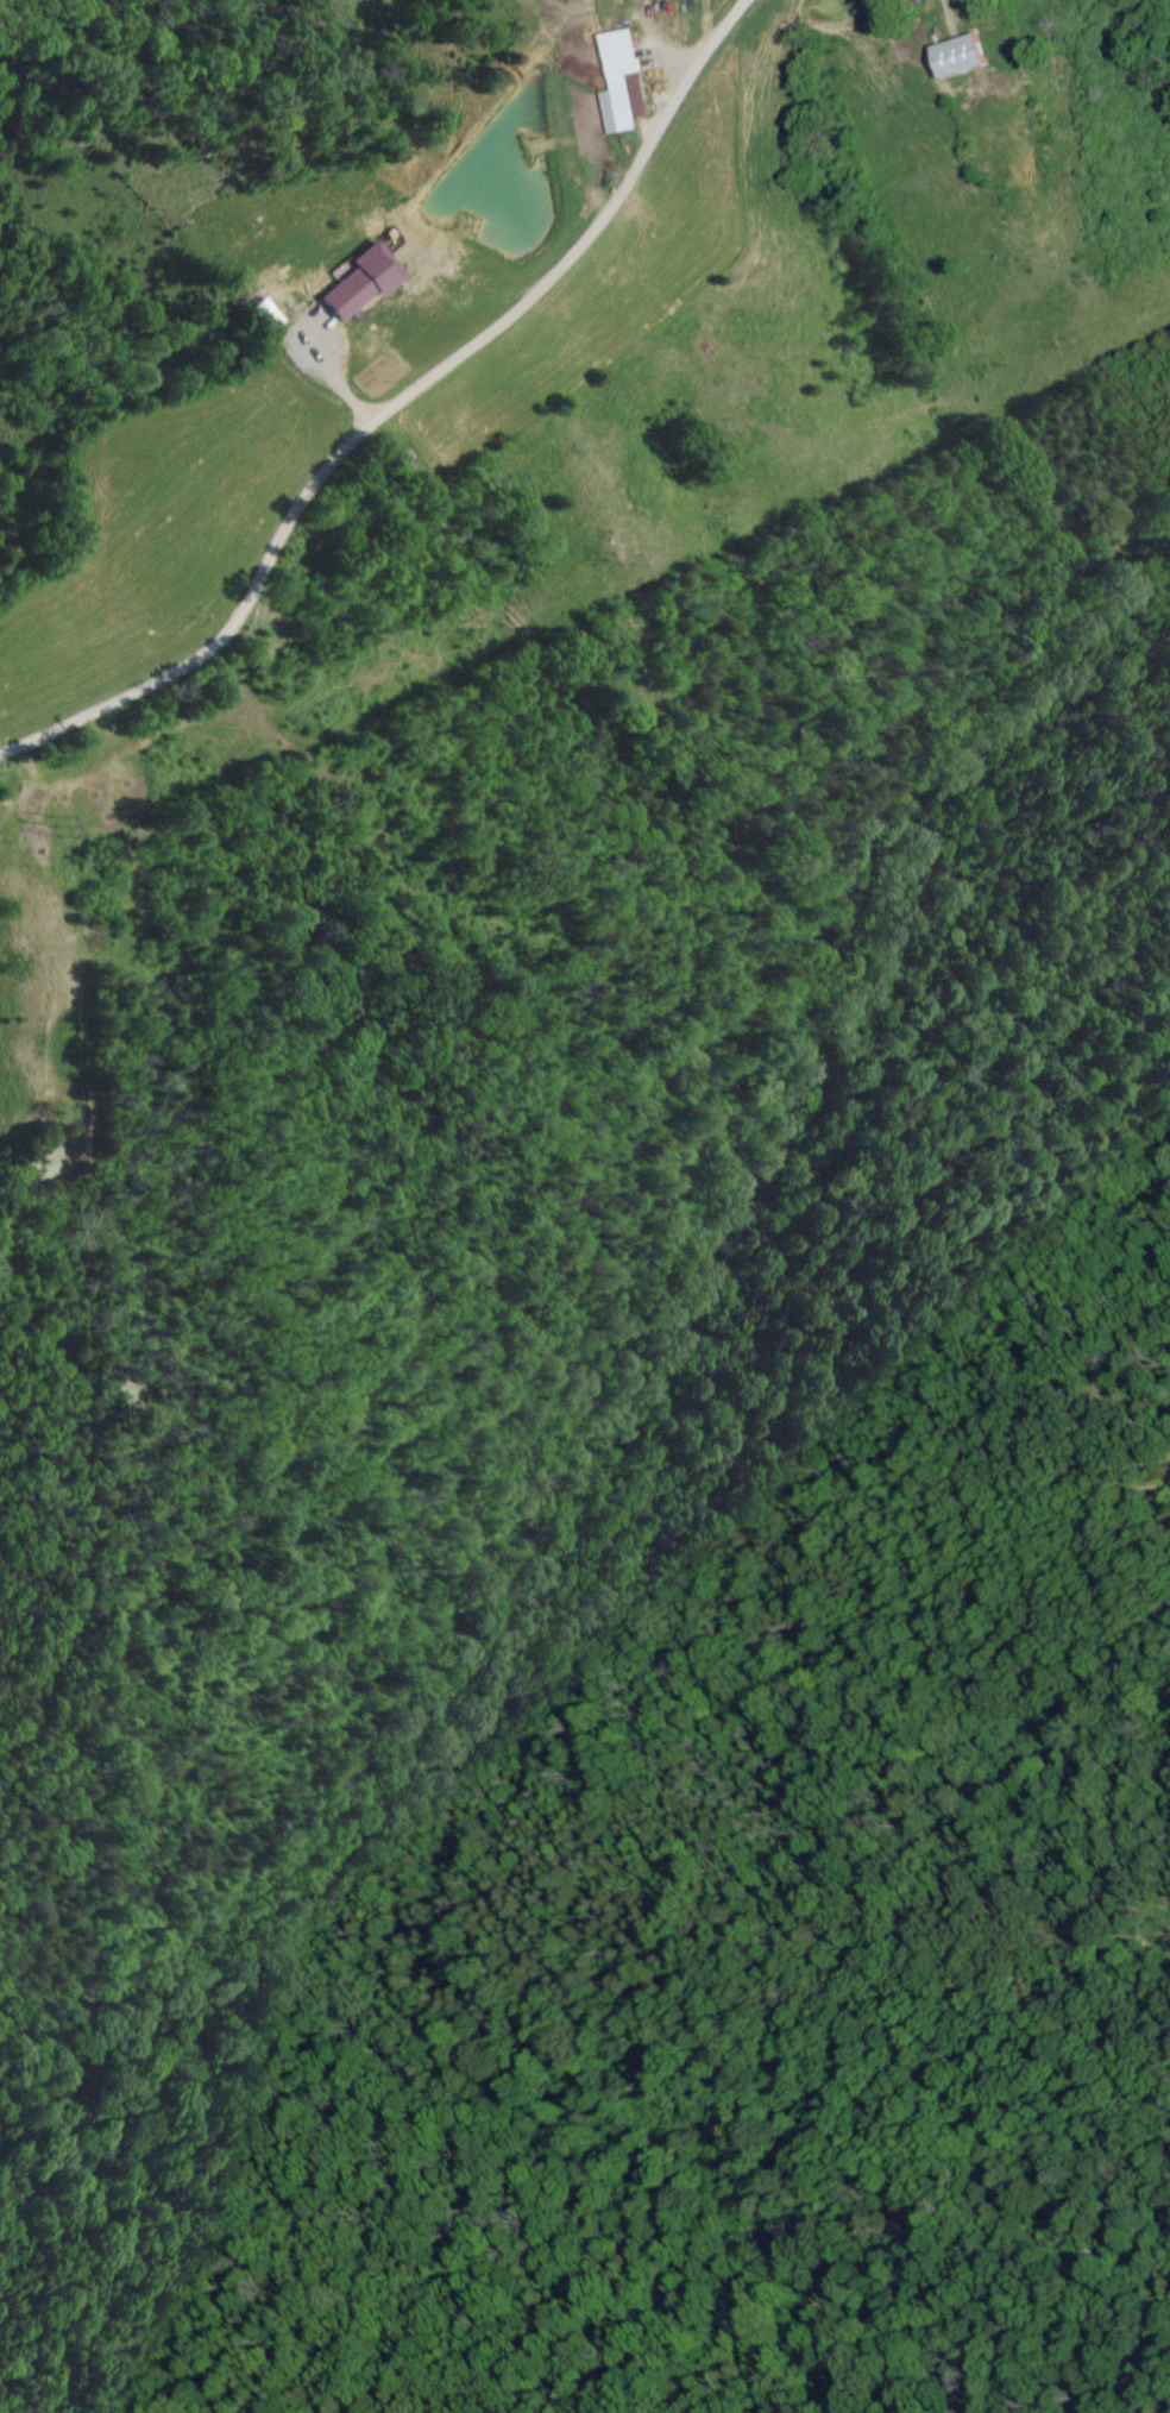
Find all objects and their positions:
building: (961, 56)
building: (623, 83)
building: (360, 281)
power tower: (1076, 344)
road: (303, 360)
road: (396, 402)
power tower: (617, 559)
power tower: (45, 824)

